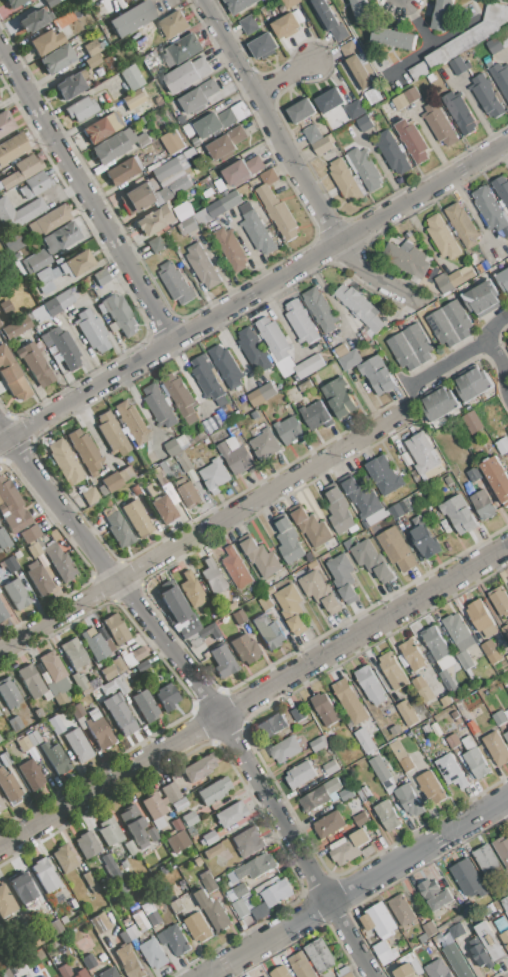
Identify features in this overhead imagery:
building: (131, 0)
building: (13, 3)
building: (51, 3)
building: (290, 3)
building: (240, 5)
building: (360, 9)
building: (442, 15)
building: (131, 18)
building: (329, 19)
building: (33, 22)
building: (249, 24)
building: (285, 24)
building: (174, 25)
building: (393, 38)
building: (462, 41)
building: (46, 42)
building: (263, 46)
building: (496, 48)
building: (92, 49)
building: (182, 51)
building: (57, 60)
building: (92, 61)
building: (356, 66)
building: (458, 66)
building: (186, 74)
road: (286, 77)
building: (500, 77)
building: (133, 78)
building: (71, 85)
building: (411, 95)
building: (198, 97)
building: (486, 97)
building: (330, 100)
building: (135, 101)
building: (399, 102)
building: (82, 109)
building: (239, 109)
building: (354, 109)
building: (302, 110)
building: (459, 112)
building: (215, 123)
building: (438, 123)
building: (5, 124)
building: (365, 124)
building: (104, 127)
building: (190, 128)
building: (313, 134)
building: (142, 139)
building: (411, 140)
building: (172, 142)
building: (227, 143)
building: (113, 146)
building: (322, 146)
building: (12, 148)
building: (393, 153)
road: (294, 160)
building: (364, 168)
building: (242, 170)
building: (21, 171)
building: (123, 171)
building: (169, 172)
building: (269, 176)
building: (345, 181)
building: (35, 185)
building: (219, 185)
building: (175, 188)
building: (501, 189)
road: (88, 193)
building: (137, 198)
building: (157, 199)
building: (231, 200)
building: (215, 209)
building: (489, 209)
building: (183, 212)
building: (277, 212)
building: (19, 213)
building: (202, 217)
building: (49, 220)
building: (156, 220)
building: (190, 224)
building: (464, 225)
building: (256, 229)
building: (442, 237)
building: (13, 243)
building: (155, 245)
building: (52, 246)
building: (230, 248)
building: (407, 257)
building: (202, 266)
building: (64, 272)
building: (102, 277)
building: (459, 277)
building: (503, 279)
building: (443, 283)
building: (176, 284)
road: (253, 293)
building: (482, 298)
building: (59, 303)
building: (360, 307)
building: (319, 310)
building: (120, 316)
building: (300, 321)
building: (450, 324)
building: (0, 325)
building: (17, 328)
building: (93, 332)
building: (506, 334)
building: (273, 338)
building: (62, 346)
building: (410, 347)
building: (340, 350)
building: (254, 351)
road: (467, 354)
building: (349, 359)
road: (501, 364)
building: (308, 365)
building: (35, 366)
building: (226, 366)
building: (285, 366)
building: (377, 376)
building: (12, 377)
building: (207, 377)
building: (473, 384)
building: (268, 390)
road: (507, 390)
building: (179, 394)
building: (255, 397)
building: (338, 397)
building: (440, 404)
building: (158, 405)
building: (316, 415)
building: (472, 422)
building: (132, 423)
building: (291, 430)
building: (111, 434)
building: (503, 444)
building: (265, 445)
building: (172, 446)
building: (86, 451)
building: (422, 452)
building: (234, 455)
building: (65, 461)
building: (184, 462)
building: (126, 475)
building: (214, 475)
building: (385, 475)
building: (473, 476)
building: (158, 477)
building: (497, 478)
building: (111, 482)
building: (149, 490)
building: (188, 495)
building: (8, 496)
building: (91, 496)
building: (365, 502)
building: (483, 505)
building: (403, 506)
building: (164, 510)
building: (339, 511)
building: (458, 514)
building: (137, 519)
building: (17, 520)
building: (118, 527)
building: (312, 528)
road: (201, 533)
building: (30, 534)
building: (4, 539)
building: (289, 541)
building: (426, 542)
building: (397, 549)
building: (34, 551)
building: (1, 554)
building: (261, 557)
building: (372, 561)
building: (60, 563)
building: (10, 564)
road: (112, 568)
building: (236, 568)
building: (213, 577)
building: (343, 577)
building: (40, 578)
building: (192, 590)
building: (319, 591)
building: (16, 594)
building: (499, 600)
building: (265, 602)
building: (292, 608)
building: (3, 613)
building: (178, 613)
building: (238, 618)
building: (481, 618)
building: (116, 628)
building: (209, 631)
road: (364, 631)
building: (458, 631)
building: (269, 632)
building: (97, 643)
building: (438, 647)
building: (488, 647)
building: (245, 649)
building: (74, 653)
building: (139, 654)
building: (413, 654)
building: (507, 657)
building: (465, 659)
building: (224, 661)
building: (53, 666)
building: (119, 666)
building: (142, 666)
building: (392, 671)
building: (109, 672)
building: (447, 680)
building: (32, 681)
building: (85, 684)
building: (370, 684)
building: (108, 687)
building: (422, 688)
building: (9, 693)
building: (167, 696)
building: (60, 699)
building: (446, 700)
building: (350, 702)
building: (145, 706)
building: (324, 708)
building: (78, 711)
building: (0, 713)
building: (39, 713)
building: (298, 713)
building: (407, 713)
building: (454, 714)
building: (507, 714)
building: (121, 715)
building: (499, 718)
building: (16, 723)
building: (56, 725)
building: (271, 726)
building: (473, 727)
building: (426, 729)
building: (394, 730)
building: (100, 733)
building: (506, 735)
building: (34, 739)
building: (0, 740)
building: (365, 740)
building: (453, 741)
building: (317, 743)
building: (24, 744)
building: (78, 745)
building: (496, 747)
building: (285, 749)
building: (401, 755)
building: (55, 758)
building: (474, 758)
building: (5, 759)
building: (200, 767)
building: (330, 767)
building: (380, 768)
building: (451, 770)
building: (31, 774)
building: (300, 774)
road: (110, 782)
building: (332, 786)
building: (9, 787)
building: (431, 788)
building: (171, 792)
building: (214, 792)
building: (346, 793)
building: (364, 794)
building: (408, 800)
building: (314, 801)
building: (1, 807)
building: (155, 810)
building: (231, 815)
building: (387, 816)
building: (190, 819)
building: (361, 819)
building: (329, 824)
building: (134, 826)
building: (109, 832)
building: (191, 832)
building: (152, 835)
building: (360, 837)
building: (177, 838)
building: (208, 838)
building: (248, 841)
building: (87, 845)
road: (297, 847)
building: (131, 848)
building: (502, 849)
building: (214, 851)
building: (343, 851)
building: (65, 858)
building: (197, 862)
building: (488, 862)
building: (109, 863)
building: (256, 866)
building: (45, 875)
building: (468, 879)
building: (208, 881)
road: (356, 886)
building: (22, 888)
building: (241, 890)
building: (275, 894)
building: (435, 894)
building: (5, 902)
building: (505, 905)
building: (176, 906)
building: (240, 907)
building: (468, 908)
building: (147, 909)
building: (402, 910)
building: (214, 911)
building: (153, 919)
building: (64, 920)
building: (379, 920)
building: (139, 921)
building: (100, 923)
building: (55, 927)
building: (442, 927)
building: (198, 928)
building: (130, 929)
building: (430, 929)
building: (457, 930)
building: (123, 937)
building: (423, 937)
building: (505, 938)
building: (174, 940)
building: (490, 941)
building: (430, 945)
building: (479, 951)
building: (385, 952)
building: (154, 953)
building: (321, 955)
building: (457, 960)
building: (129, 961)
building: (89, 962)
building: (301, 965)
building: (437, 969)
building: (64, 971)
building: (405, 971)
building: (280, 972)
building: (344, 972)
building: (5, 973)
building: (108, 973)
building: (82, 974)
building: (29, 976)
building: (43, 976)

